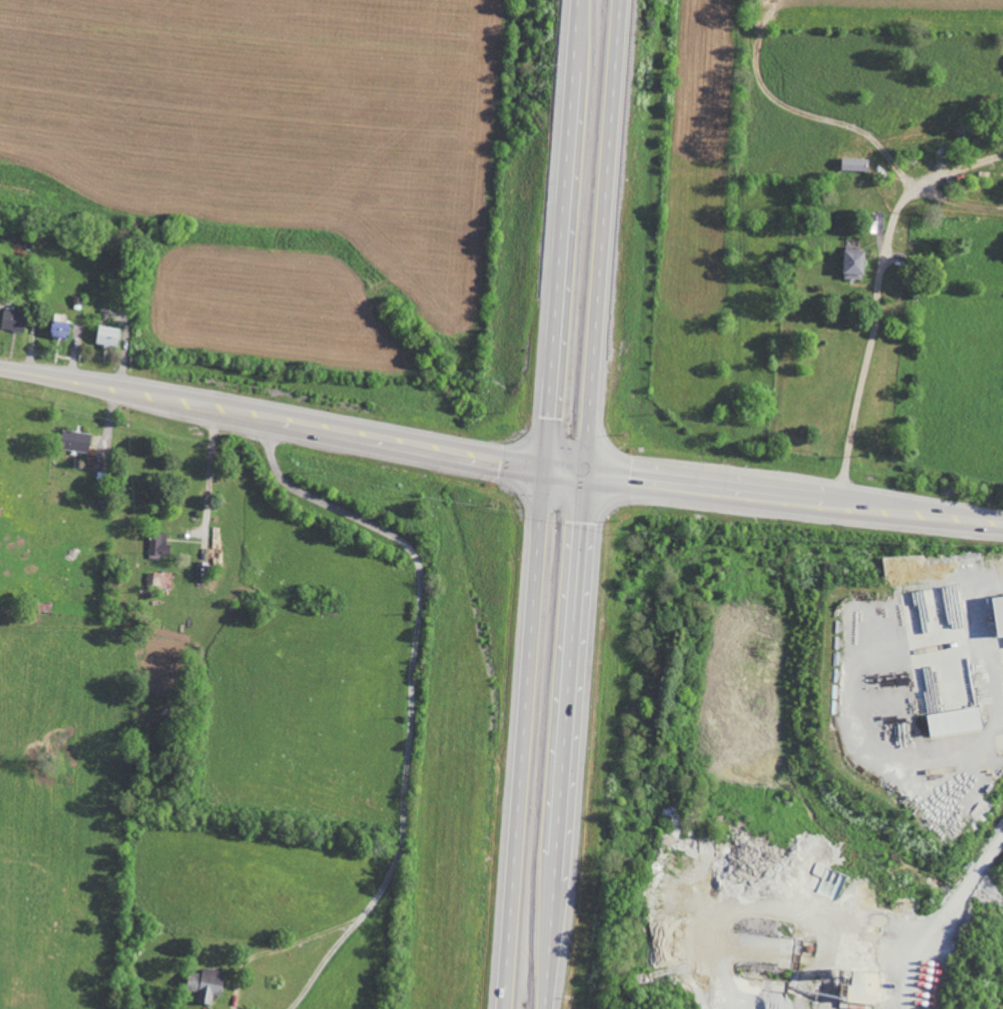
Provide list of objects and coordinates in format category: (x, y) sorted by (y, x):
building: (854, 164)
road: (958, 171)
road: (958, 201)
building: (852, 265)
building: (12, 320)
building: (58, 329)
building: (107, 336)
road: (870, 343)
building: (74, 441)
road: (498, 460)
road: (541, 504)
road: (584, 504)
road: (343, 522)
building: (158, 545)
building: (997, 613)
building: (953, 721)
quarry: (800, 776)
road: (405, 777)
road: (943, 916)
road: (276, 949)
road: (324, 962)
building: (205, 984)
building: (862, 987)

